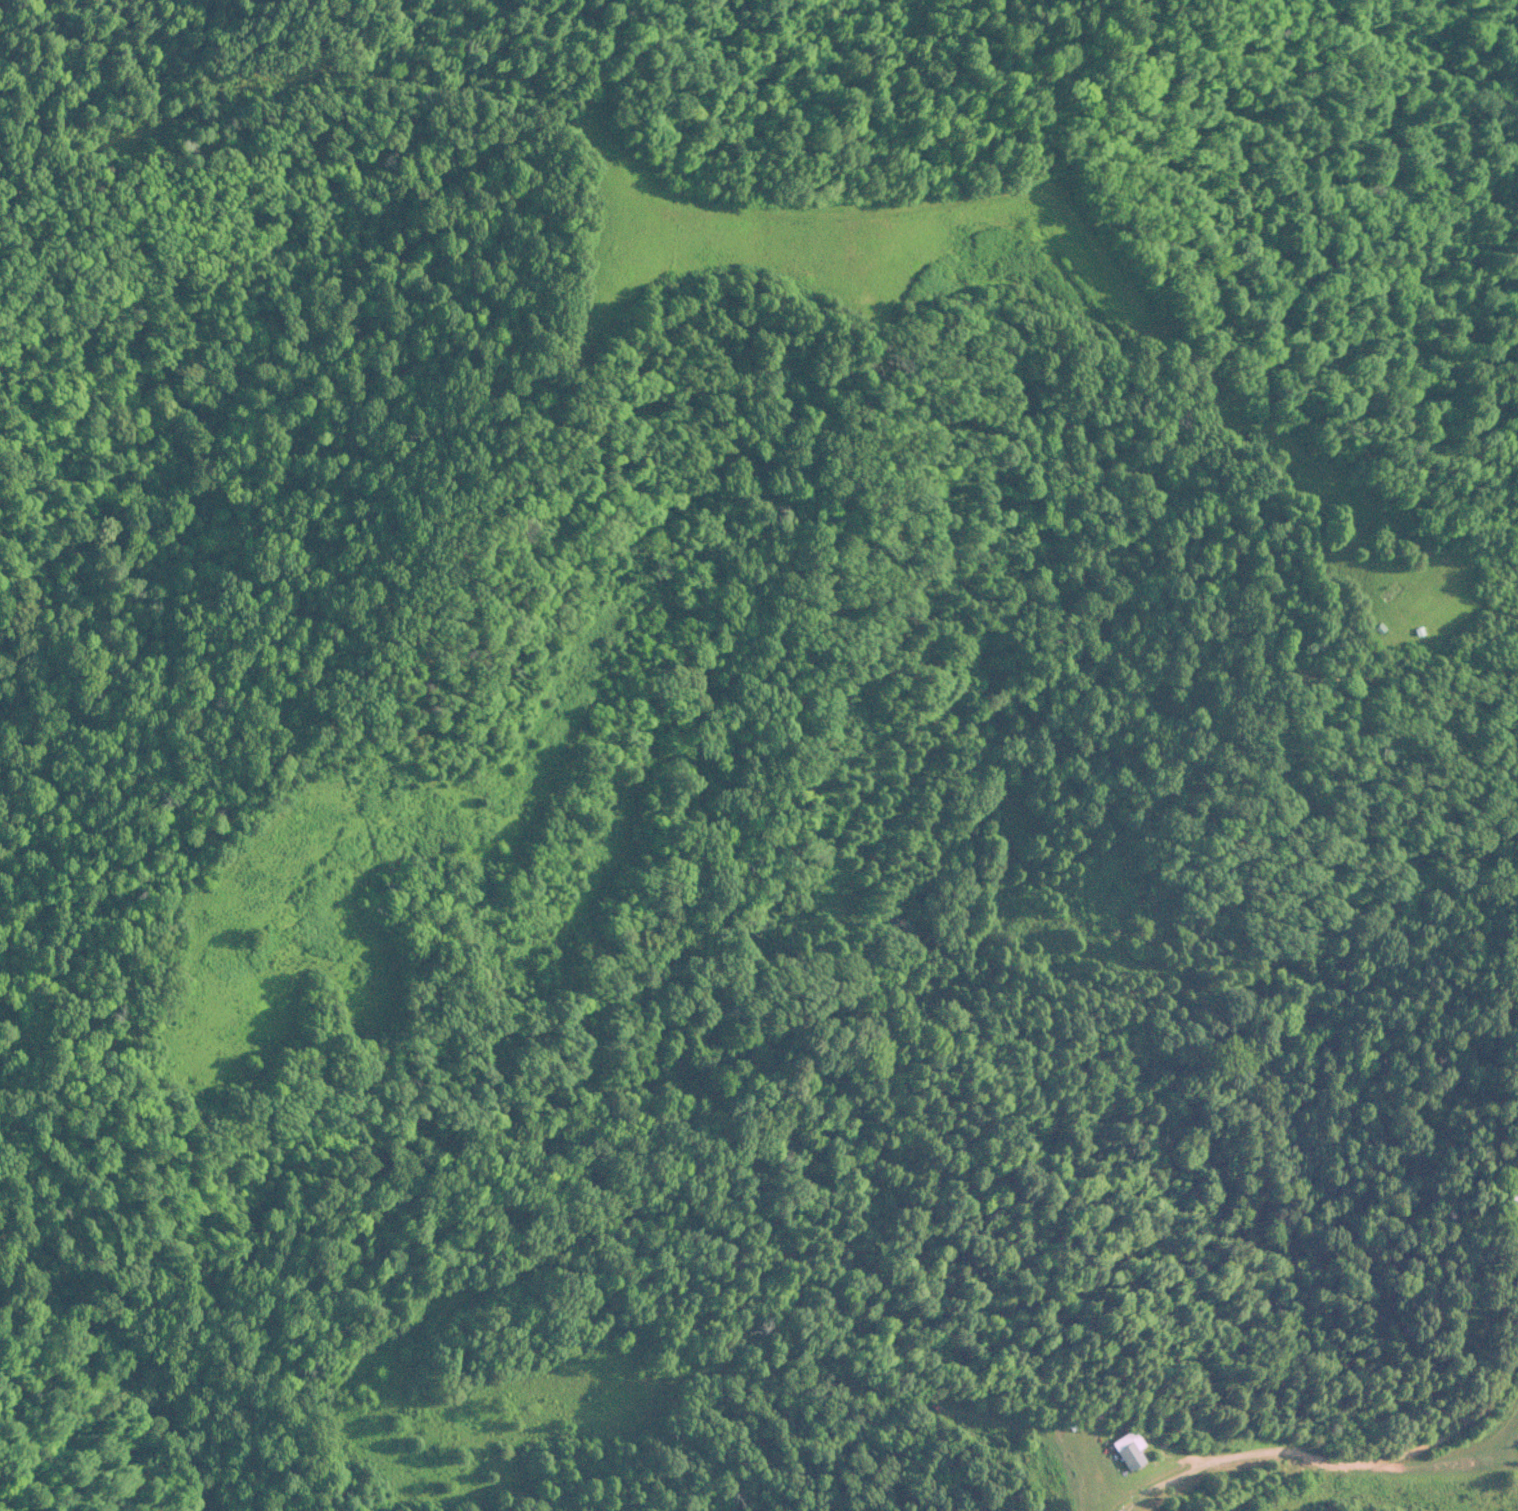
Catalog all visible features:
building: (1383, 627)
building: (1514, 1204)
road: (1422, 1449)
building: (1133, 1450)

